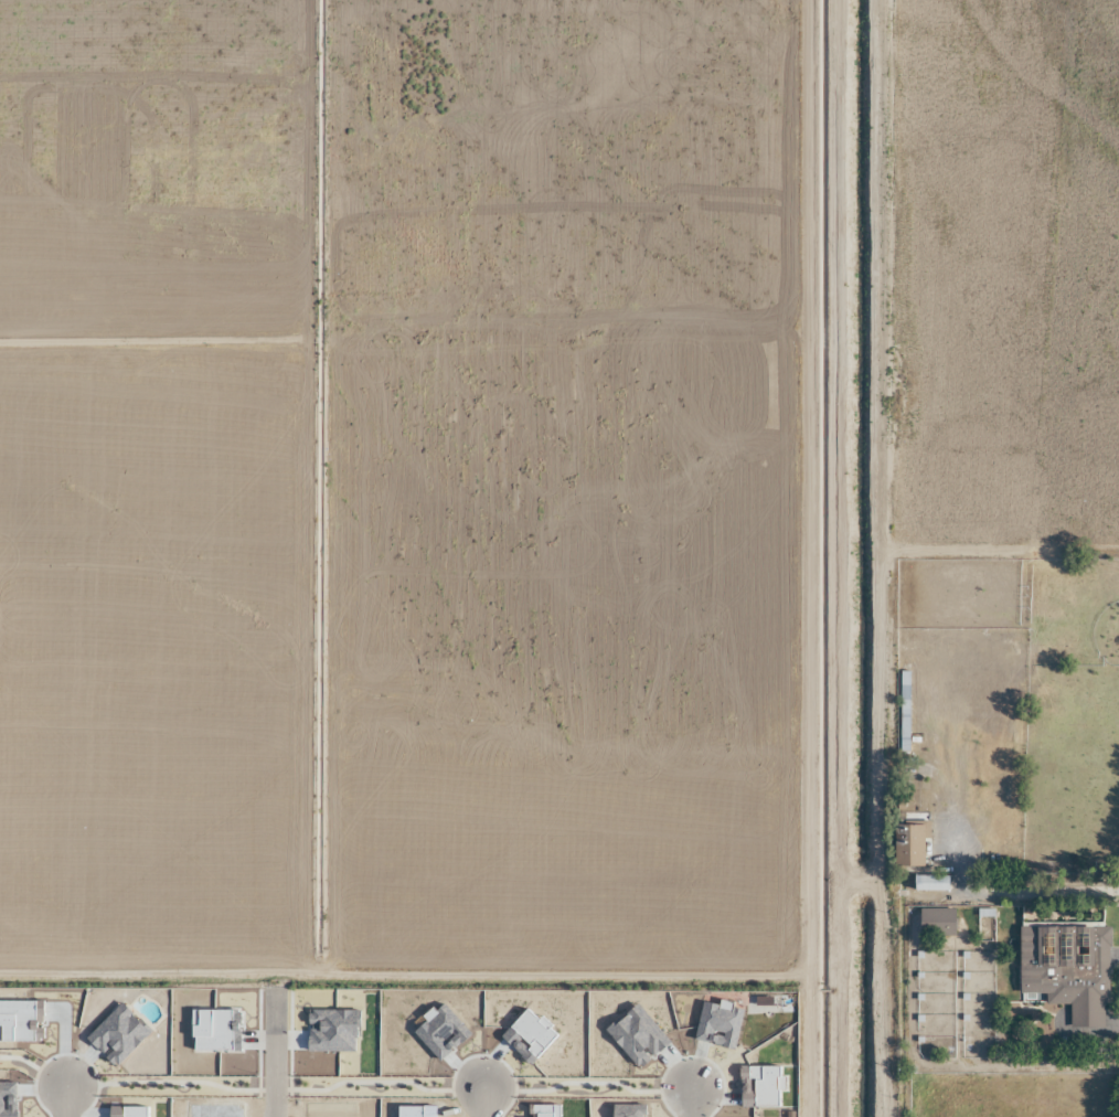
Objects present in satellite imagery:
crop: (153, 483)
crop: (561, 485)
building: (903, 711)
building: (907, 847)
building: (935, 922)
building: (1066, 970)
crop: (152, 1049)
crop: (558, 1050)
road: (279, 1055)
road: (63, 1103)
road: (480, 1103)
road: (690, 1105)

